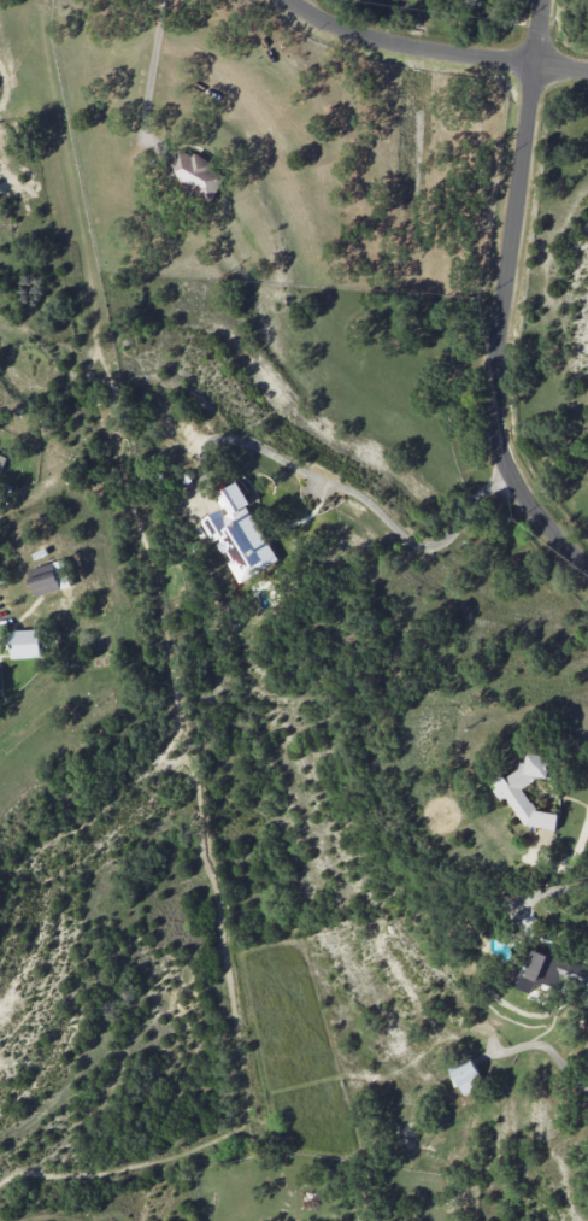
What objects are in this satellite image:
road: (433, 53)
road: (151, 70)
building: (195, 174)
road: (504, 299)
building: (1, 460)
road: (341, 487)
building: (239, 534)
building: (47, 577)
building: (25, 642)
building: (507, 791)
road: (578, 815)
building: (543, 971)
building: (468, 1076)

